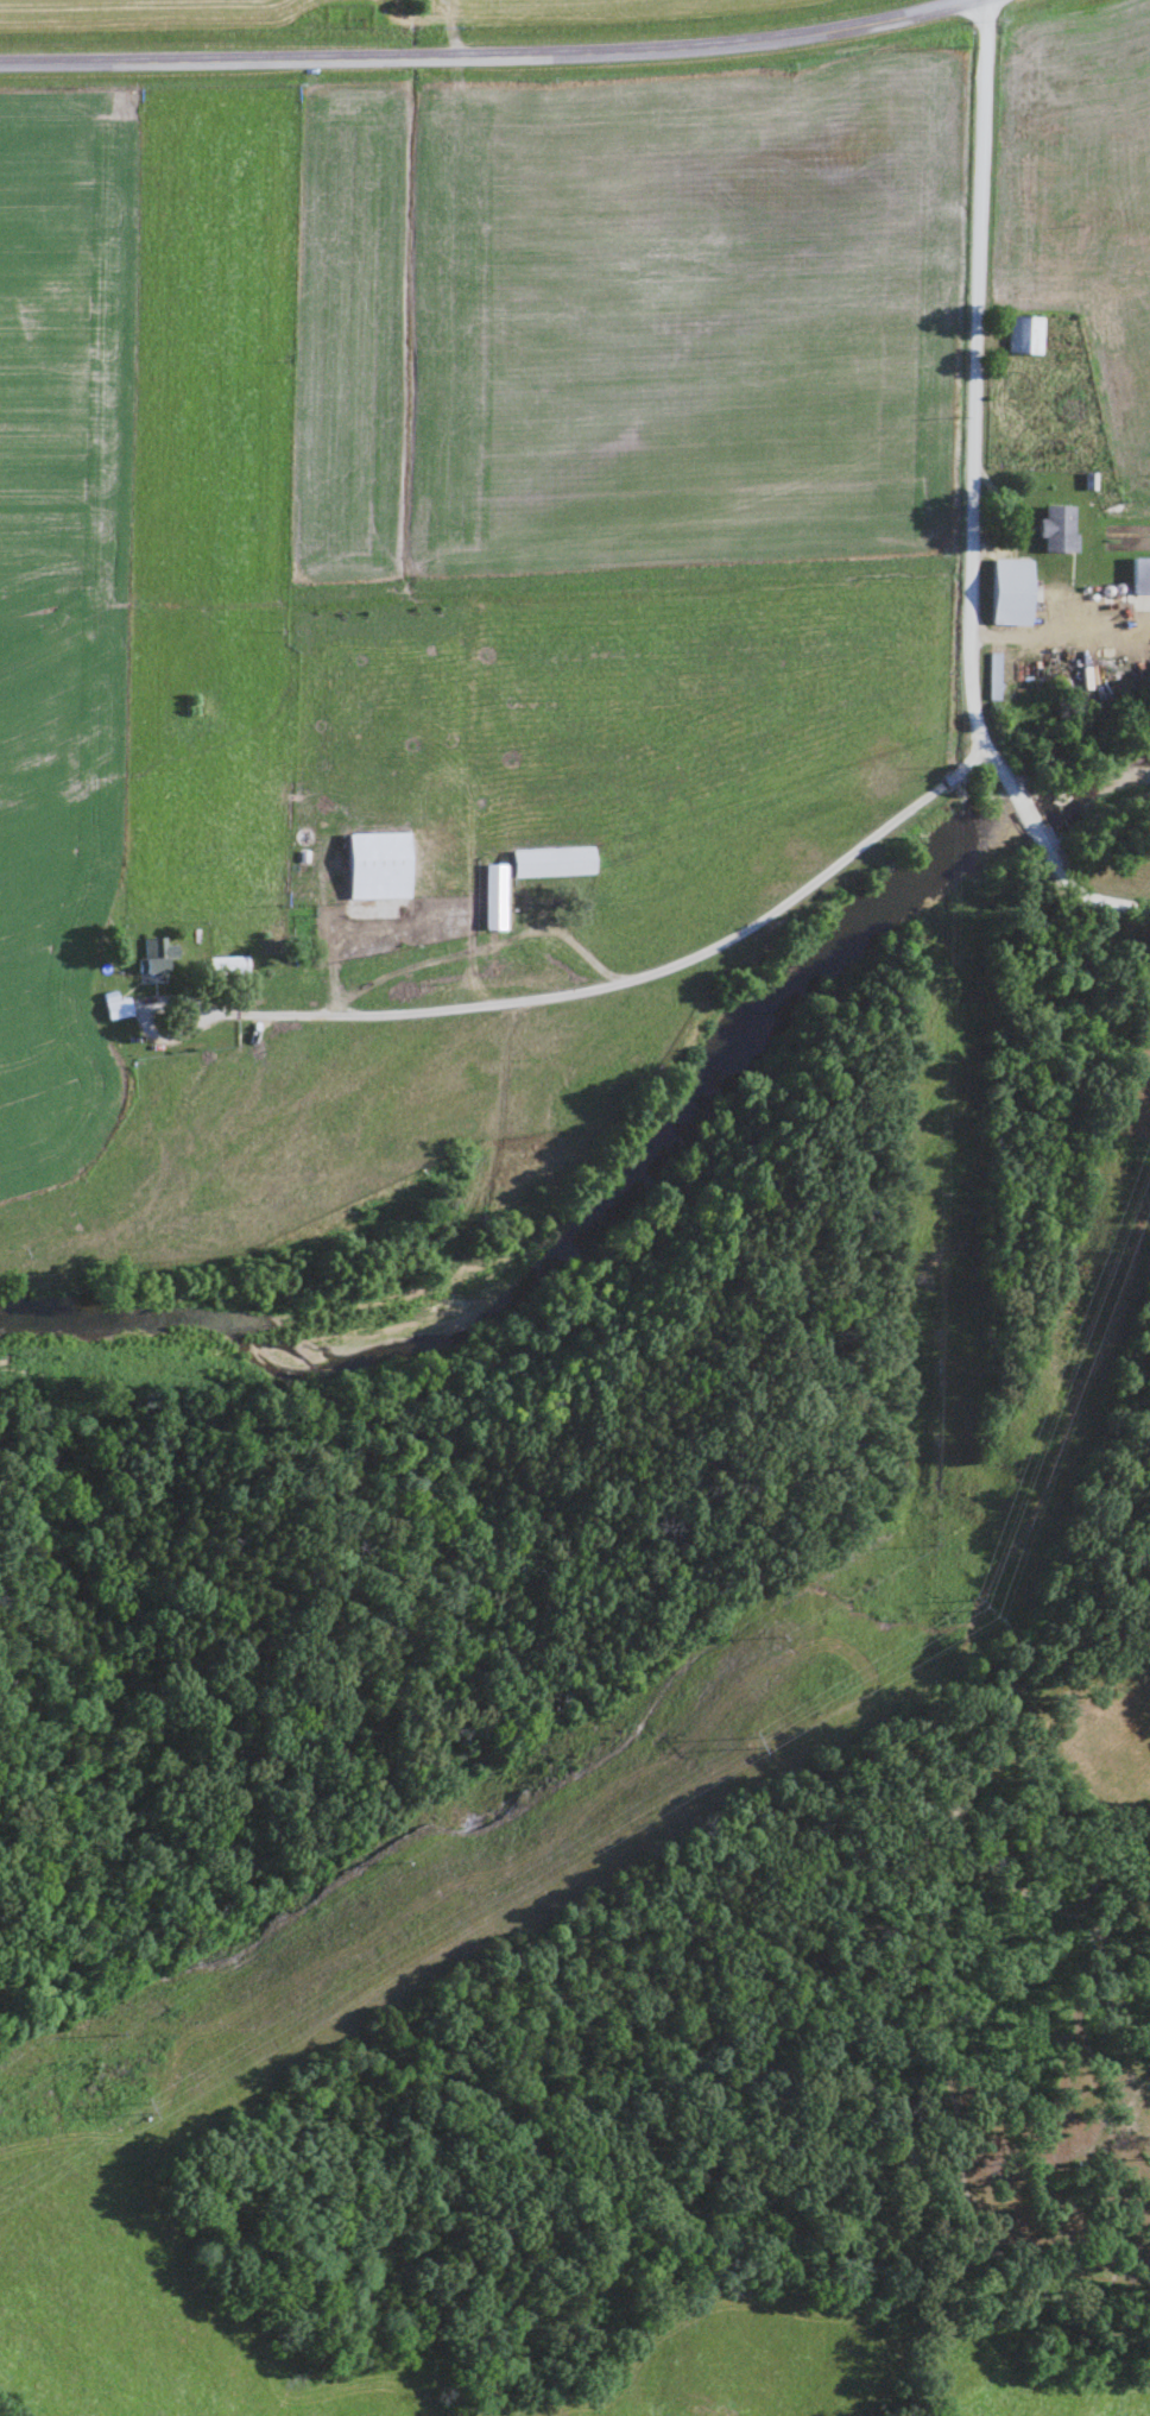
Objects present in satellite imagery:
road: (478, 53)
building: (1023, 333)
road: (977, 494)
building: (1055, 526)
building: (1139, 574)
building: (1009, 591)
building: (991, 676)
building: (549, 862)
building: (375, 865)
building: (492, 896)
building: (154, 955)
building: (227, 965)
road: (619, 985)
building: (115, 1007)

